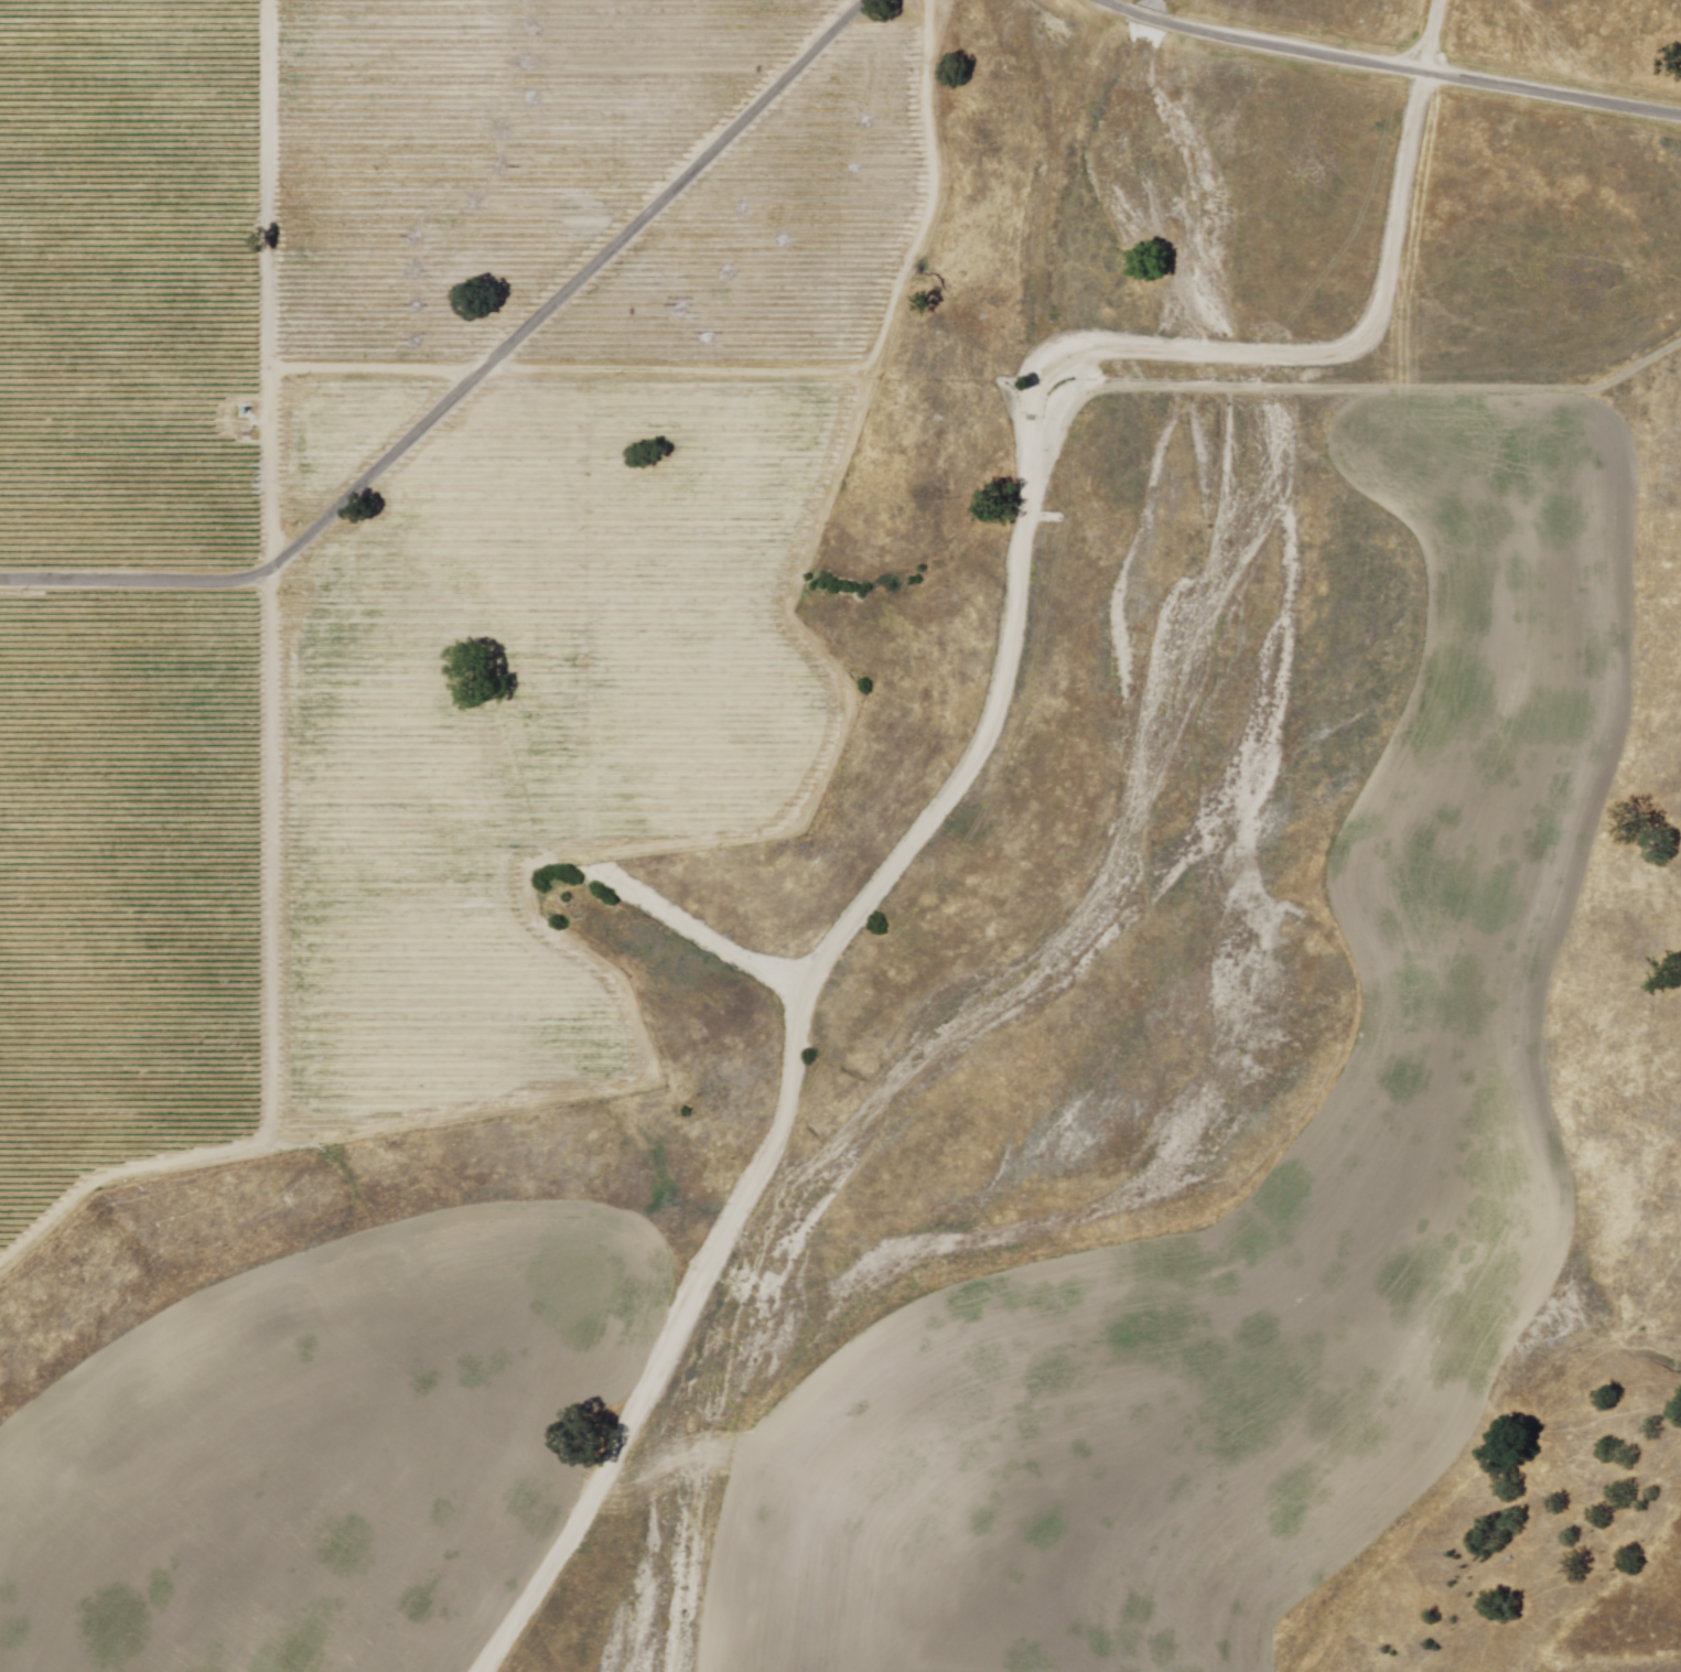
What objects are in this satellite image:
road: (1392, 65)
road: (472, 380)
road: (1337, 389)
road: (980, 747)

